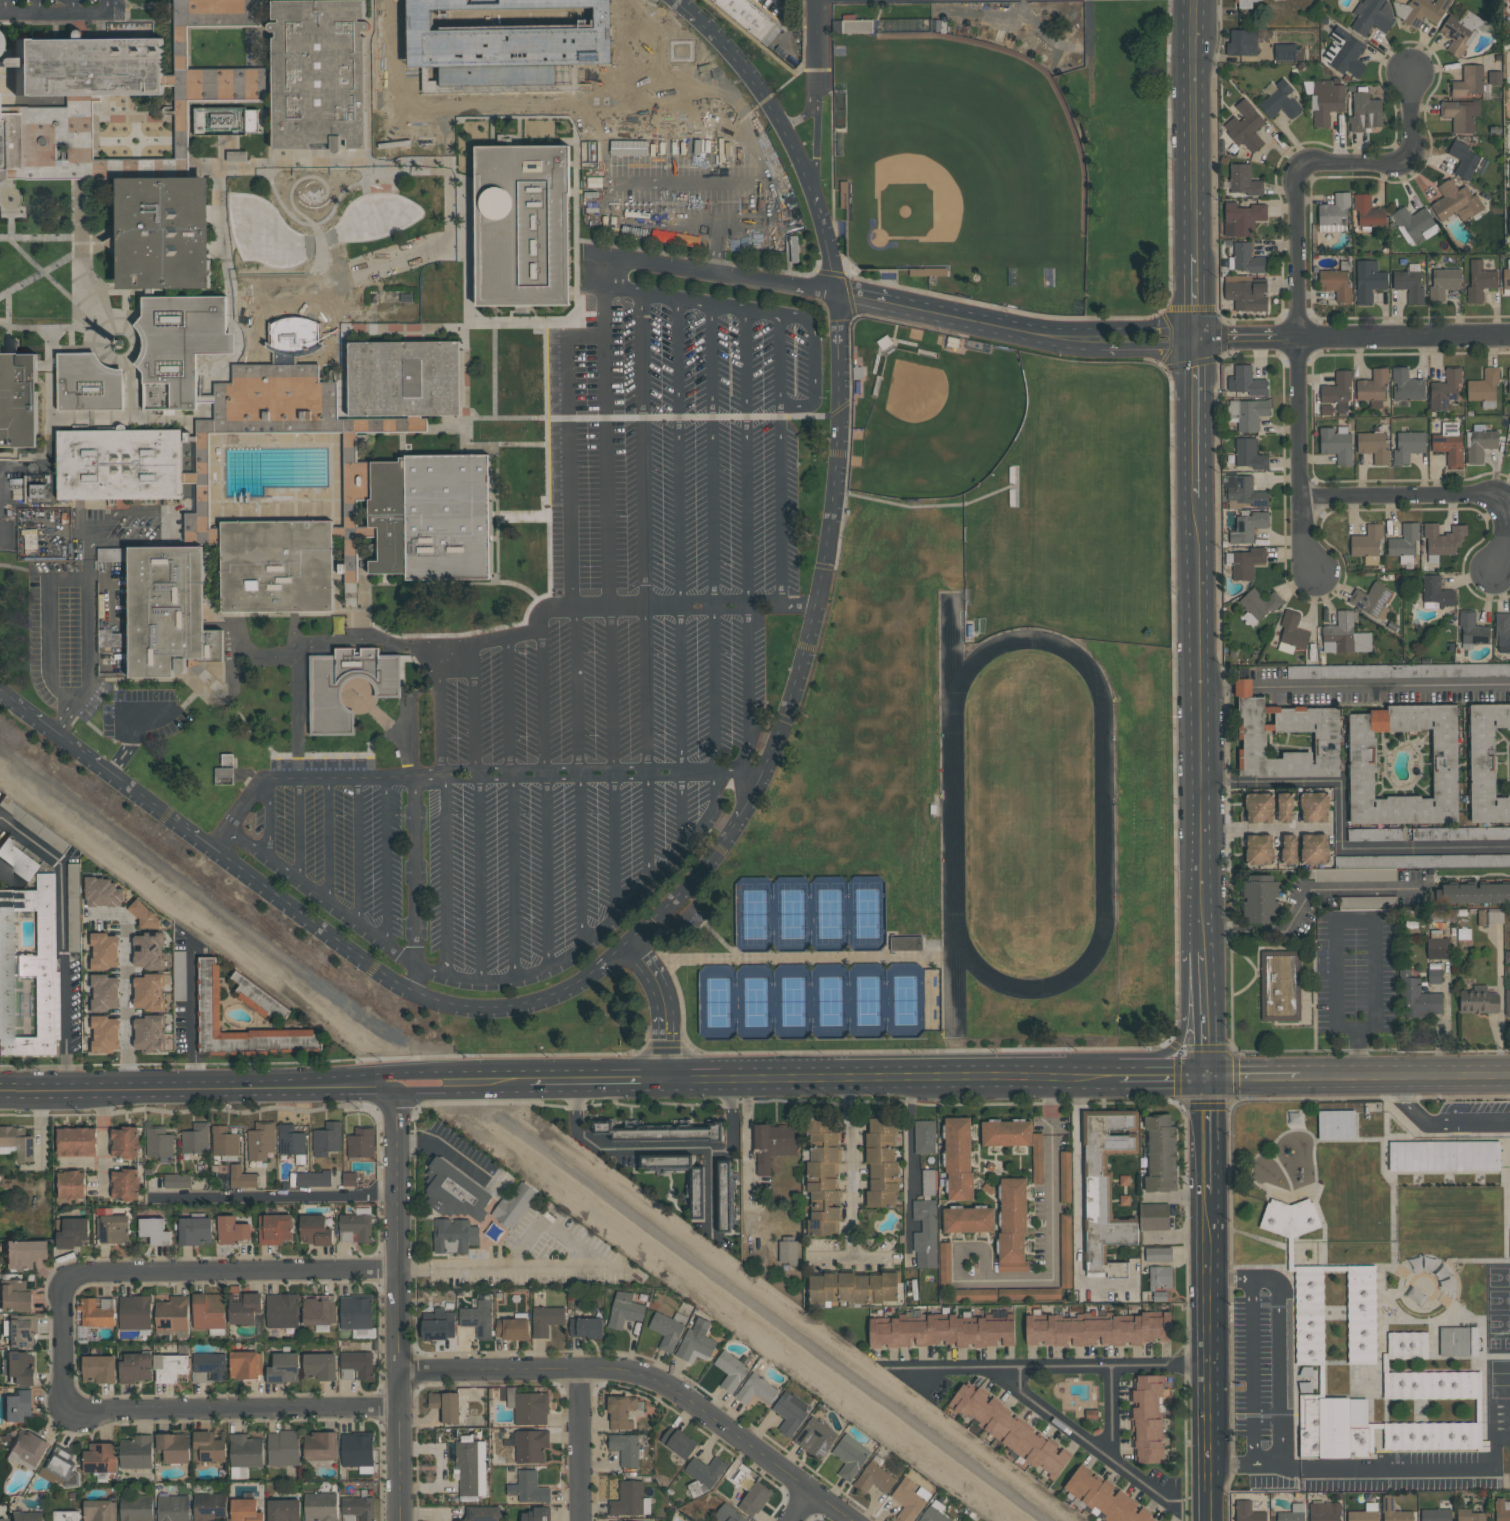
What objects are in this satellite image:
parking lot: (915, 1)
building: (1245, 4)
road: (154, 5)
road: (38, 6)
road: (71, 6)
road: (3, 7)
road: (127, 10)
parking lot: (62, 11)
building: (1421, 11)
road: (59, 13)
road: (146, 13)
building: (1373, 16)
building: (749, 17)
road: (155, 21)
road: (64, 24)
building: (854, 26)
parking lot: (785, 29)
road: (56, 32)
road: (752, 37)
building: (509, 41)
building: (1243, 42)
road: (268, 44)
building: (1285, 51)
road: (819, 52)
building: (1345, 52)
building: (270, 75)
building: (1469, 81)
road: (182, 83)
road: (263, 89)
building: (1281, 101)
building: (1325, 101)
road: (503, 102)
road: (50, 103)
building: (1365, 113)
building: (1460, 114)
parking lot: (637, 116)
road: (800, 117)
road: (115, 119)
road: (648, 125)
road: (519, 126)
building: (1245, 126)
road: (492, 131)
road: (452, 134)
building: (91, 142)
building: (8, 143)
road: (681, 147)
road: (816, 155)
park: (954, 157)
building: (1467, 161)
road: (399, 165)
road: (605, 167)
road: (144, 168)
road: (30, 174)
road: (221, 174)
building: (1243, 180)
road: (80, 182)
road: (300, 185)
building: (1456, 201)
road: (10, 207)
road: (833, 207)
road: (452, 208)
building: (1509, 211)
building: (1368, 212)
building: (1334, 214)
road: (575, 218)
building: (1242, 218)
road: (665, 221)
road: (326, 222)
building: (1414, 224)
building: (522, 226)
road: (10, 229)
building: (164, 234)
road: (88, 236)
road: (38, 237)
road: (96, 240)
road: (716, 247)
road: (320, 248)
building: (793, 248)
road: (452, 250)
road: (110, 251)
building: (1245, 258)
road: (39, 268)
road: (364, 271)
road: (1294, 273)
road: (124, 274)
road: (726, 274)
road: (34, 276)
building: (1506, 276)
building: (1368, 280)
road: (879, 281)
building: (1480, 281)
building: (1335, 283)
building: (1444, 283)
building: (1410, 284)
building: (1246, 293)
road: (188, 295)
road: (282, 297)
road: (674, 299)
road: (325, 300)
road: (256, 303)
road: (136, 310)
road: (929, 313)
road: (91, 317)
road: (512, 317)
road: (9, 322)
road: (486, 322)
road: (912, 325)
road: (1112, 326)
road: (407, 331)
road: (1355, 335)
traffic signals: (1201, 337)
building: (297, 338)
building: (119, 344)
road: (1111, 351)
road: (814, 363)
road: (545, 369)
road: (495, 370)
building: (1245, 381)
building: (1509, 381)
building: (1406, 385)
building: (91, 386)
building: (1484, 386)
building: (1373, 389)
building: (1445, 390)
building: (1336, 394)
building: (18, 399)
building: (1247, 413)
road: (153, 417)
road: (607, 417)
park: (940, 424)
road: (850, 442)
building: (1449, 442)
building: (1336, 443)
building: (1480, 444)
building: (1509, 445)
road: (607, 446)
building: (1373, 446)
building: (1408, 446)
building: (1249, 454)
road: (780, 460)
road: (1202, 464)
building: (416, 491)
building: (1244, 492)
building: (38, 493)
road: (1434, 495)
parking lot: (686, 496)
road: (929, 506)
park: (1077, 511)
road: (547, 514)
road: (210, 515)
road: (523, 515)
road: (173, 519)
building: (1248, 526)
road: (348, 531)
road: (645, 533)
road: (680, 536)
road: (712, 538)
building: (1442, 541)
road: (748, 544)
building: (1367, 545)
building: (1404, 545)
road: (88, 562)
building: (1246, 563)
road: (830, 567)
road: (24, 571)
road: (64, 580)
road: (414, 583)
road: (523, 588)
building: (1437, 591)
building: (1371, 599)
building: (1258, 605)
road: (627, 607)
road: (731, 607)
road: (532, 622)
building: (1503, 633)
building: (1292, 634)
building: (1345, 635)
parking lot: (65, 638)
building: (110, 638)
road: (358, 643)
building: (1398, 670)
parking lot: (546, 679)
road: (116, 684)
road: (298, 685)
road: (1376, 686)
road: (1223, 688)
building: (328, 691)
road: (576, 691)
road: (542, 694)
road: (188, 700)
road: (220, 701)
road: (151, 704)
road: (508, 705)
road: (473, 708)
road: (380, 717)
road: (66, 718)
parking lot: (141, 720)
road: (260, 737)
road: (612, 737)
building: (1286, 738)
road: (441, 748)
road: (124, 753)
road: (344, 754)
building: (228, 761)
building: (1490, 763)
building: (1404, 765)
road: (737, 773)
road: (491, 775)
building: (226, 778)
road: (1218, 785)
road: (250, 802)
building: (1285, 807)
building: (1315, 807)
building: (1259, 808)
road: (682, 810)
track: (1022, 815)
road: (1104, 815)
road: (269, 817)
road: (952, 817)
park: (1029, 817)
building: (33, 824)
road: (299, 828)
road: (1264, 829)
road: (648, 831)
road: (730, 831)
building: (1460, 833)
building: (1375, 834)
road: (223, 839)
road: (329, 839)
road: (616, 845)
road: (1343, 848)
road: (358, 849)
building: (1259, 849)
building: (1289, 849)
building: (1314, 849)
parking lot: (477, 854)
road: (386, 859)
road: (581, 859)
building: (18, 860)
building: (1396, 865)
road: (547, 869)
road: (416, 870)
road: (444, 874)
road: (515, 876)
building: (1259, 877)
building: (104, 892)
building: (1476, 893)
road: (323, 896)
road: (1300, 899)
building: (1366, 901)
building: (1260, 902)
building: (73, 906)
road: (628, 908)
road: (480, 910)
building: (144, 915)
park: (812, 916)
building: (1490, 917)
road: (1373, 923)
road: (1198, 934)
road: (62, 937)
building: (906, 943)
building: (1437, 948)
building: (150, 950)
building: (103, 951)
road: (725, 957)
road: (840, 957)
building: (29, 969)
building: (179, 975)
building: (1434, 976)
road: (417, 980)
road: (126, 985)
building: (1281, 986)
building: (209, 989)
building: (104, 992)
building: (149, 992)
building: (260, 997)
building: (1417, 997)
building: (1479, 1000)
building: (1507, 1001)
park: (820, 1003)
road: (1202, 1007)
road: (665, 1009)
road: (195, 1019)
road: (1184, 1026)
building: (151, 1034)
building: (104, 1035)
road: (463, 1072)
road: (1404, 1074)
road: (348, 1075)
road: (1094, 1075)
road: (1161, 1075)
traffic signals: (1206, 1075)
road: (1253, 1075)
road: (867, 1078)
road: (617, 1081)
road: (552, 1082)
road: (389, 1084)
road: (154, 1087)
road: (463, 1091)
road: (349, 1095)
road: (732, 1114)
building: (1336, 1125)
road: (1434, 1126)
building: (661, 1132)
road: (102, 1136)
building: (924, 1136)
building: (195, 1138)
building: (326, 1138)
building: (76, 1139)
building: (124, 1140)
building: (260, 1140)
building: (290, 1140)
building: (1016, 1140)
building: (224, 1141)
building: (17, 1142)
building: (360, 1142)
building: (159, 1143)
building: (773, 1144)
road: (444, 1146)
road: (721, 1148)
road: (617, 1149)
building: (1161, 1154)
building: (1444, 1156)
building: (958, 1159)
road: (911, 1160)
building: (883, 1162)
building: (675, 1167)
building: (1054, 1175)
building: (241, 1177)
building: (822, 1177)
building: (313, 1178)
building: (349, 1178)
building: (176, 1181)
building: (71, 1183)
building: (124, 1183)
building: (929, 1183)
road: (851, 1185)
building: (1106, 1185)
building: (454, 1192)
road: (712, 1192)
road: (270, 1195)
building: (723, 1198)
road: (1080, 1204)
building: (514, 1205)
building: (697, 1213)
road: (1050, 1216)
building: (1154, 1216)
building: (1290, 1217)
building: (968, 1219)
building: (1012, 1225)
building: (112, 1227)
building: (355, 1227)
building: (275, 1228)
building: (315, 1228)
building: (153, 1229)
building: (195, 1229)
building: (233, 1229)
building: (72, 1230)
building: (925, 1234)
building: (454, 1235)
building: (788, 1249)
building: (23, 1252)
building: (1158, 1254)
road: (871, 1258)
building: (944, 1262)
road: (556, 1269)
road: (230, 1273)
building: (1160, 1277)
building: (853, 1286)
building: (974, 1294)
building: (15, 1296)
building: (1160, 1296)
road: (1205, 1298)
building: (245, 1307)
road: (393, 1307)
building: (208, 1310)
building: (282, 1310)
building: (318, 1310)
building: (624, 1310)
building: (97, 1311)
building: (135, 1311)
building: (172, 1313)
building: (356, 1313)
building: (1361, 1314)
building: (1309, 1315)
building: (478, 1318)
building: (546, 1319)
building: (438, 1324)
building: (586, 1326)
building: (512, 1327)
building: (667, 1329)
building: (1099, 1331)
building: (20, 1332)
building: (939, 1332)
road: (1278, 1340)
building: (697, 1341)
building: (1454, 1341)
road: (66, 1343)
building: (1407, 1345)
building: (243, 1363)
building: (356, 1364)
building: (319, 1365)
building: (135, 1366)
building: (170, 1366)
building: (208, 1366)
building: (20, 1367)
building: (98, 1367)
building: (284, 1367)
building: (730, 1370)
road: (1051, 1370)
road: (1252, 1373)
road: (644, 1376)
building: (1431, 1385)
building: (756, 1390)
building: (17, 1405)
building: (445, 1405)
building: (531, 1408)
road: (229, 1411)
building: (790, 1412)
building: (619, 1413)
road: (1110, 1417)
building: (1148, 1418)
building: (1009, 1430)
building: (1372, 1431)
building: (816, 1436)
road: (1085, 1441)
building: (678, 1442)
building: (210, 1444)
building: (174, 1445)
building: (321, 1445)
building: (530, 1445)
road: (578, 1445)
building: (28, 1446)
building: (283, 1448)
building: (357, 1448)
building: (625, 1448)
building: (246, 1450)
building: (136, 1451)
building: (100, 1456)
building: (850, 1456)
road: (1243, 1467)
building: (56, 1468)
building: (471, 1468)
road: (1386, 1469)
building: (706, 1471)
building: (874, 1479)
building: (528, 1487)
building: (1102, 1497)
building: (909, 1498)
building: (630, 1499)
building: (755, 1499)
building: (320, 1506)
road: (797, 1506)
building: (173, 1507)
building: (210, 1507)
building: (284, 1508)
building: (357, 1508)
building: (97, 1509)
building: (136, 1509)
building: (245, 1509)
building: (1394, 1510)
building: (1502, 1510)
building: (1249, 1511)
building: (1325, 1511)
building: (934, 1512)
building: (482, 1513)
building: (1292, 1513)
building: (1364, 1513)
building: (535, 1514)
building: (729, 1514)
building: (65, 1515)
building: (1435, 1515)
building: (1470, 1515)
building: (26, 1516)
building: (2, 1519)
building: (651, 1520)

